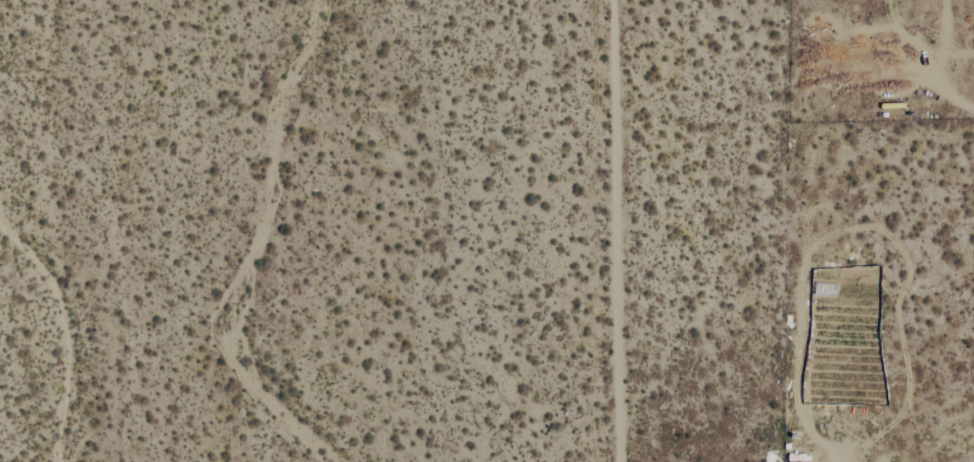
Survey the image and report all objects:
road: (614, 231)

